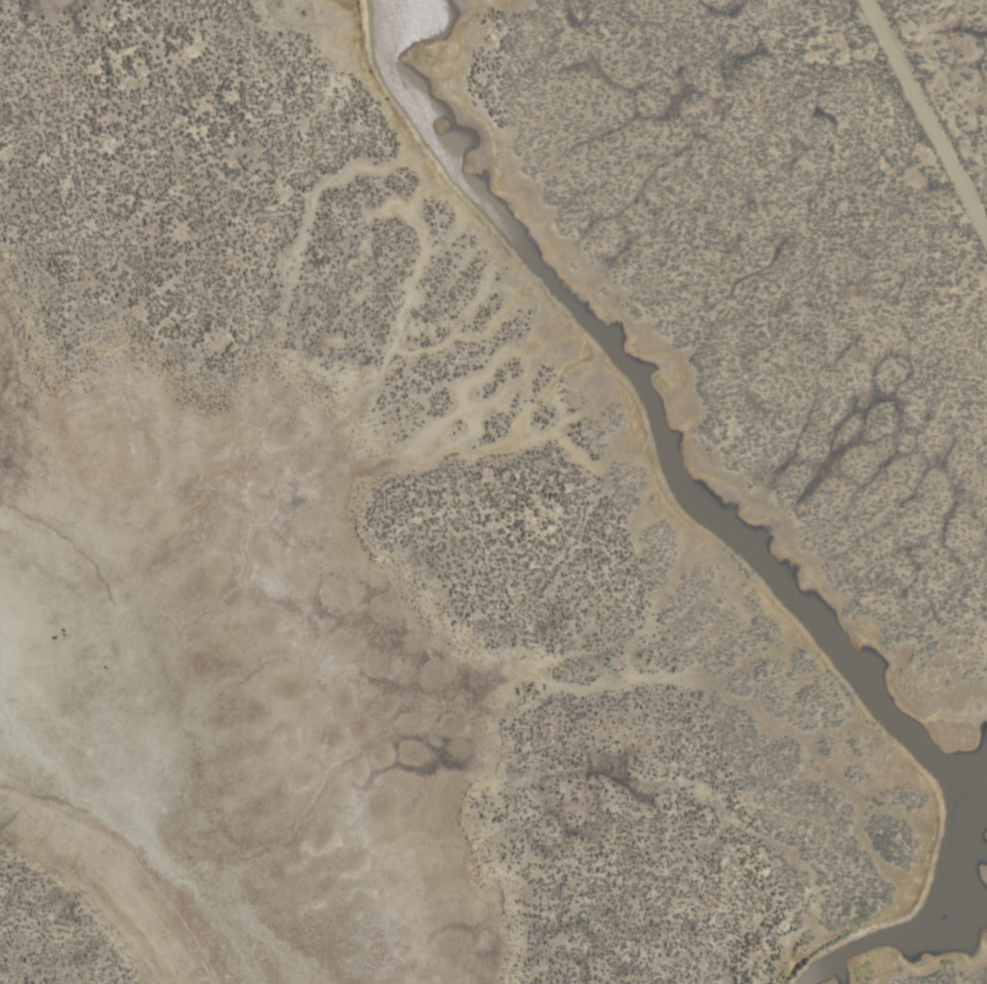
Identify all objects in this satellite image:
road: (927, 116)

